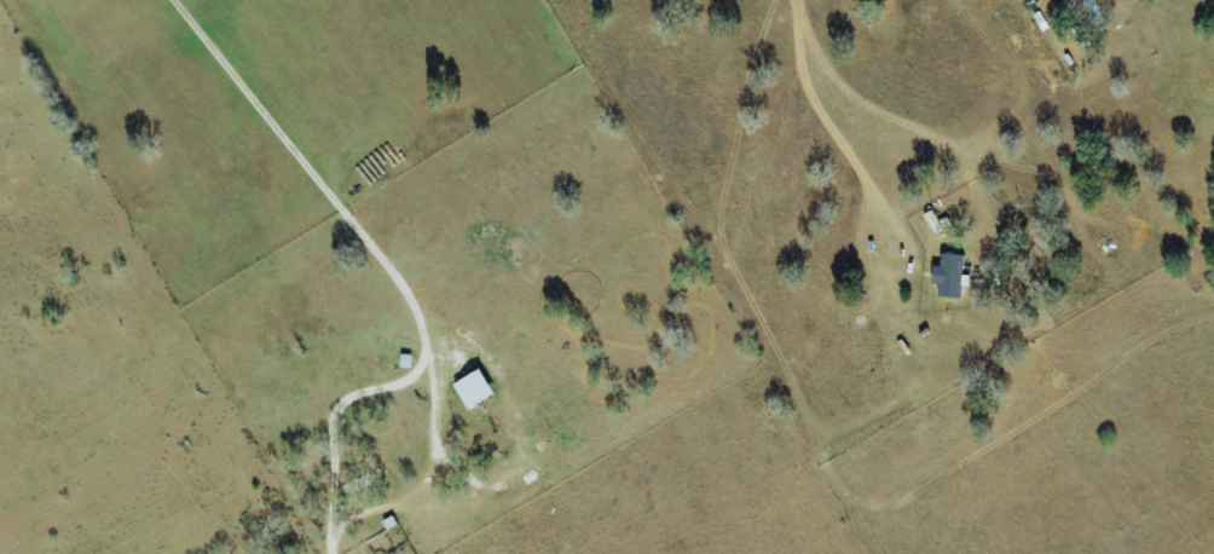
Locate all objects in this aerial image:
road: (836, 134)
road: (401, 272)
building: (948, 276)
building: (472, 389)
road: (439, 471)

